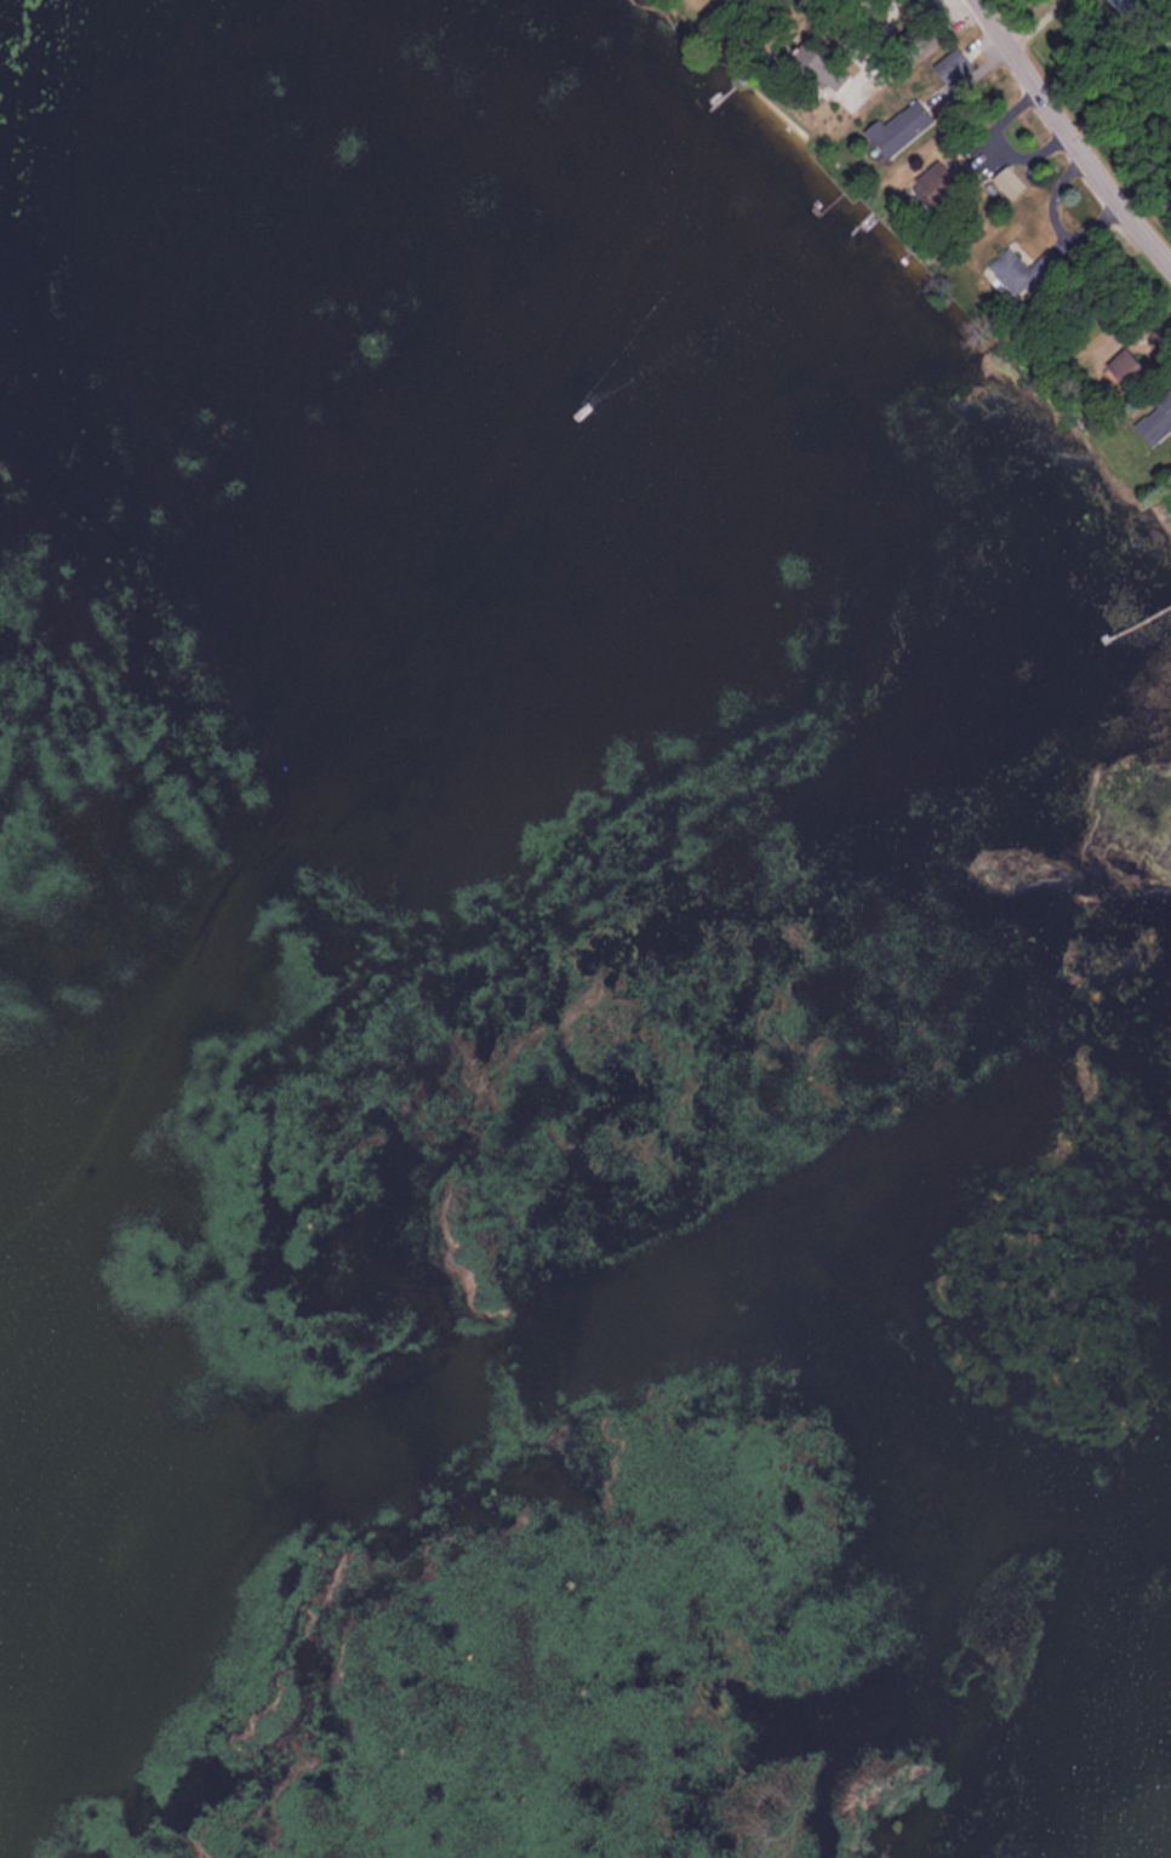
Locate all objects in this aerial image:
building: (950, 65)
building: (901, 126)
road: (1074, 131)
building: (1006, 181)
building: (1012, 273)
building: (1123, 367)
building: (1155, 419)

